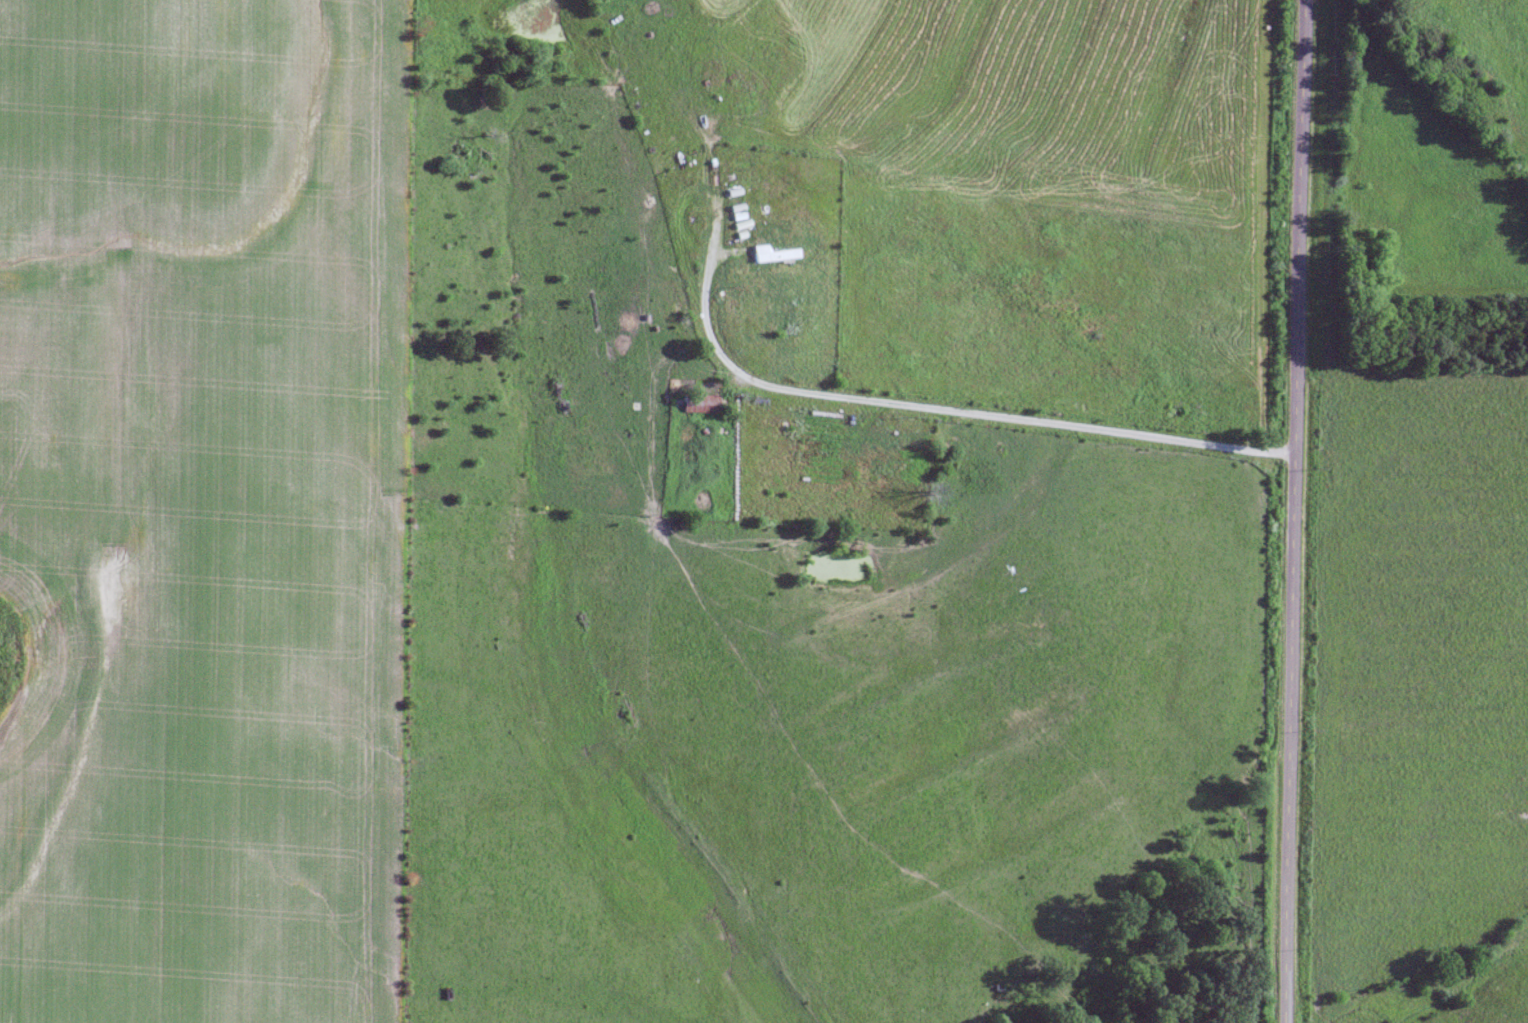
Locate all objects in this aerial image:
building: (774, 255)
building: (788, 328)
building: (699, 404)
road: (993, 416)
road: (1290, 511)

